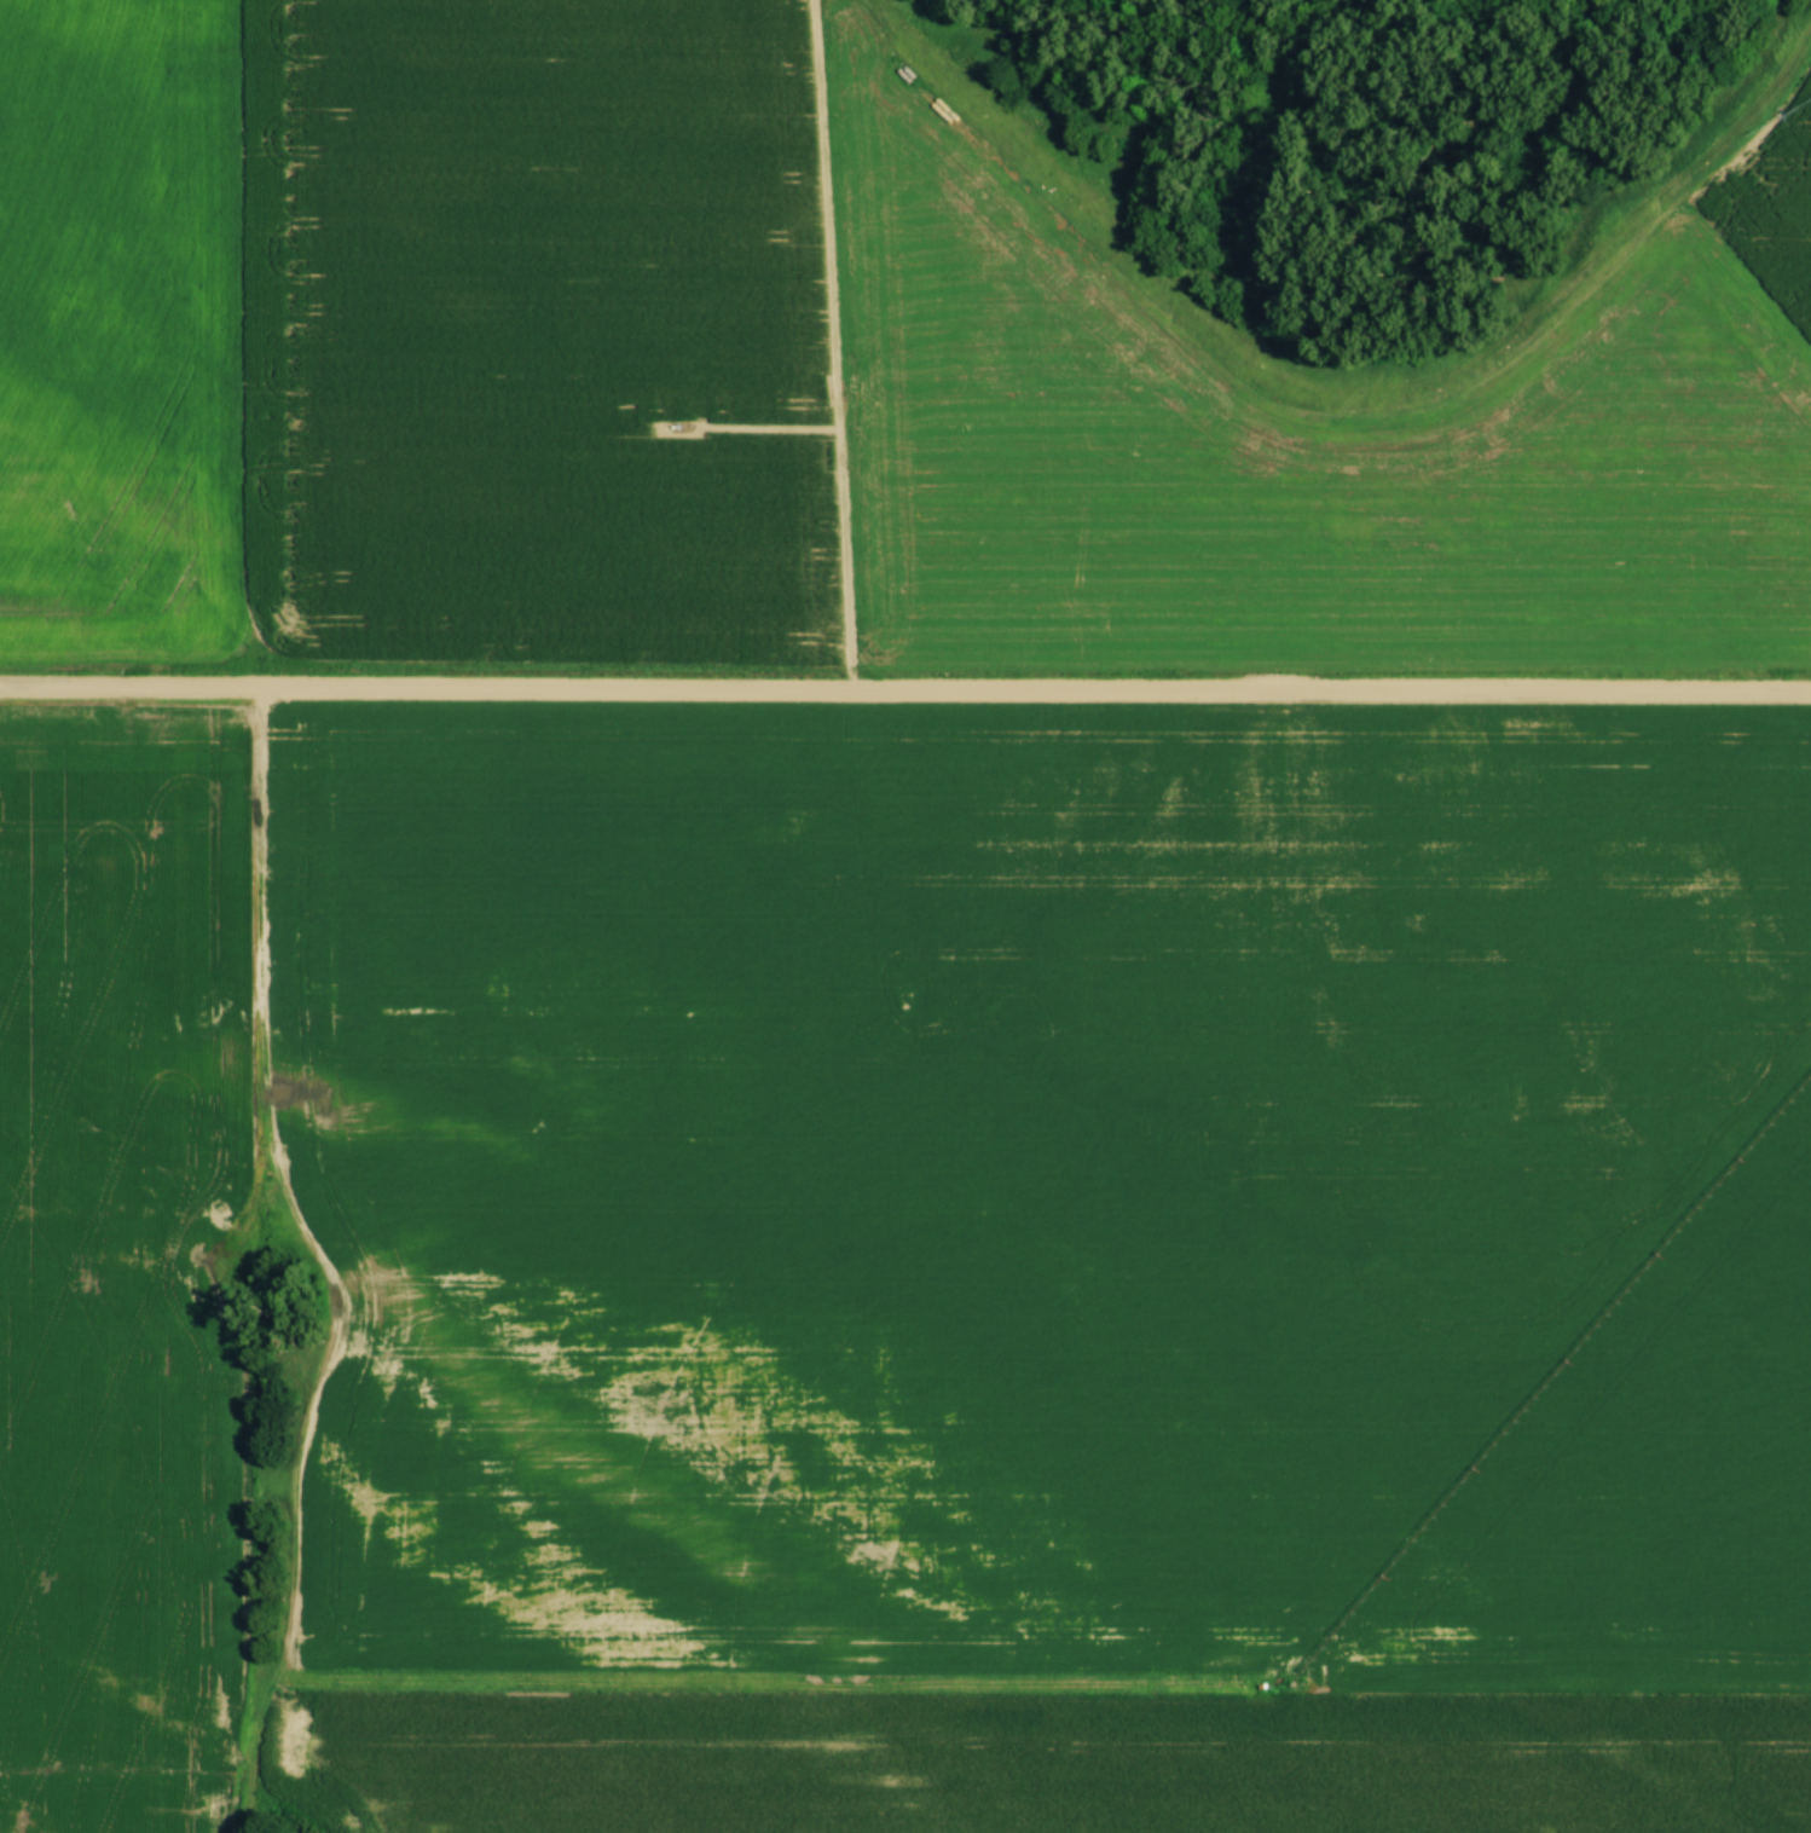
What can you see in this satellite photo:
road: (905, 688)

